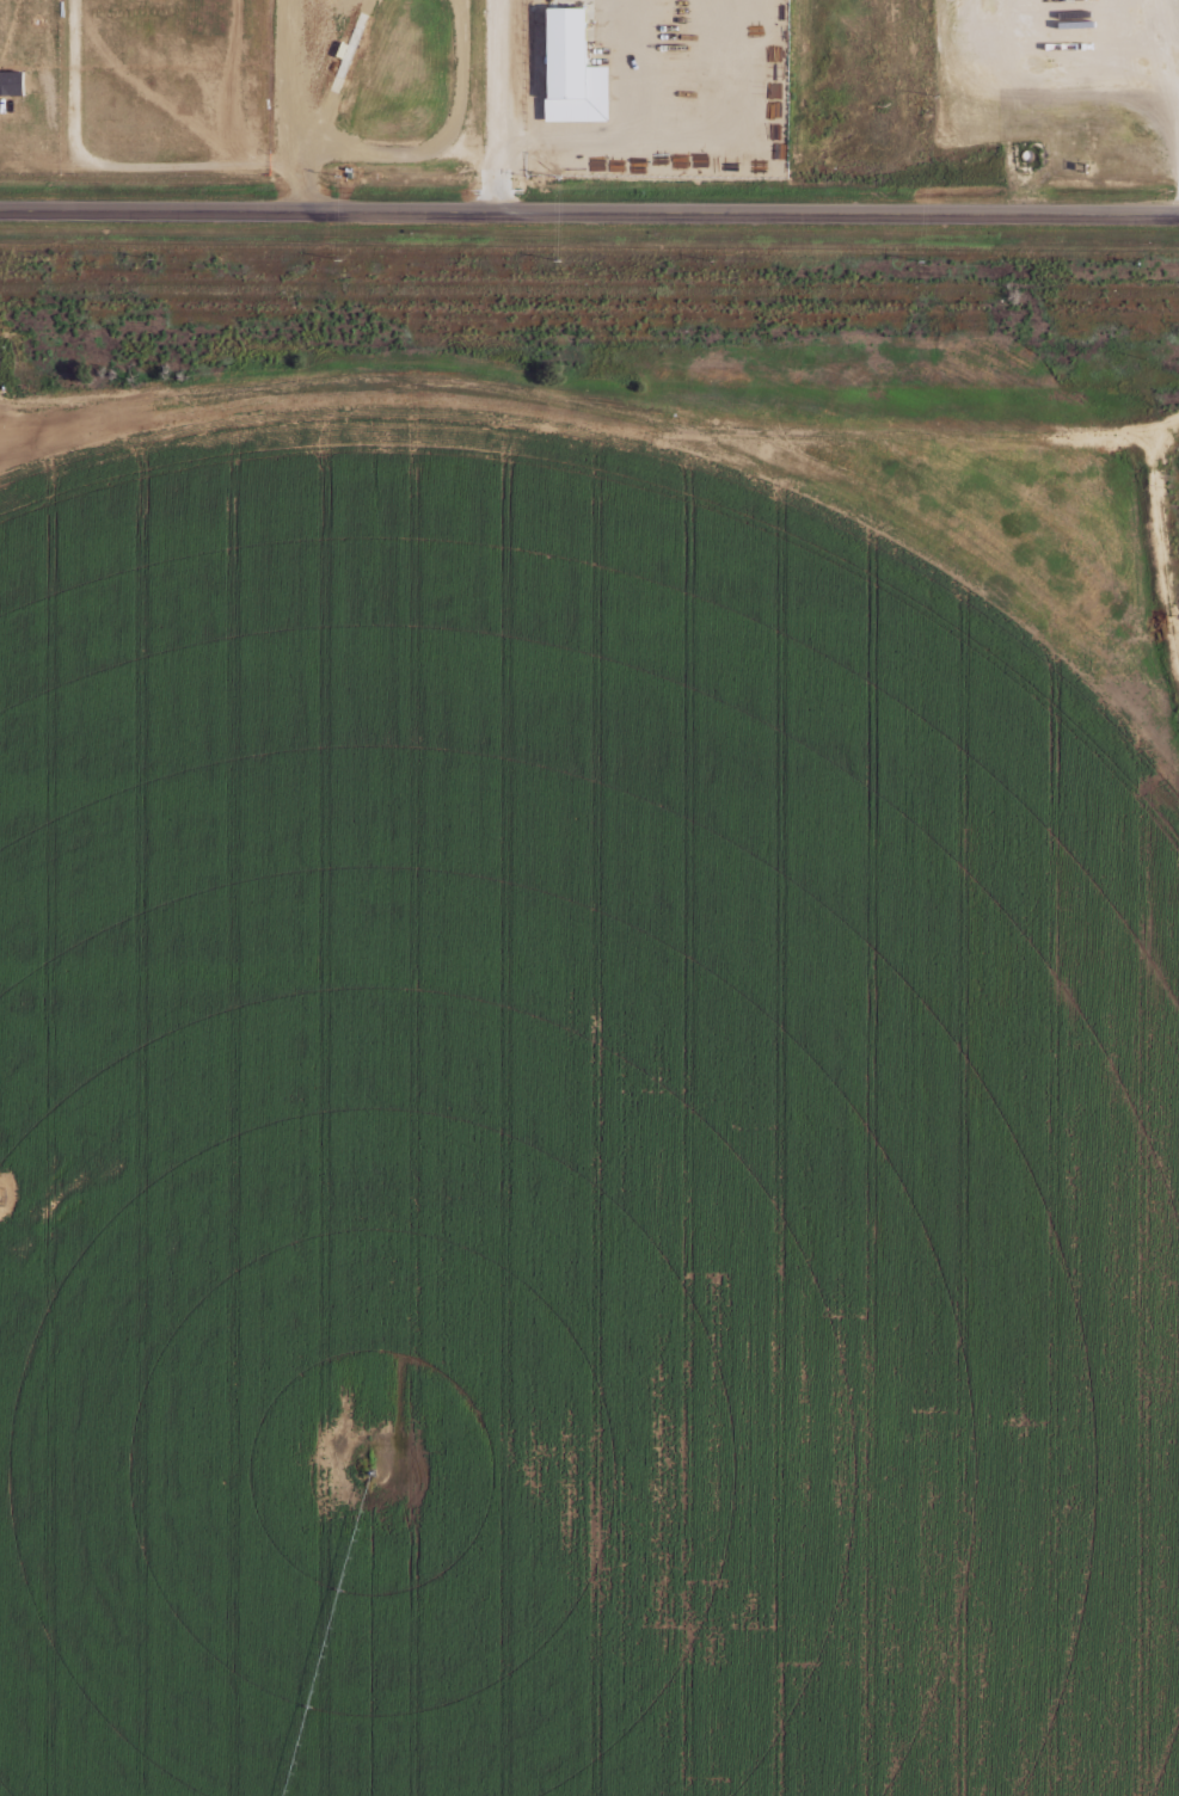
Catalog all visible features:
building: (572, 70)
road: (589, 211)

